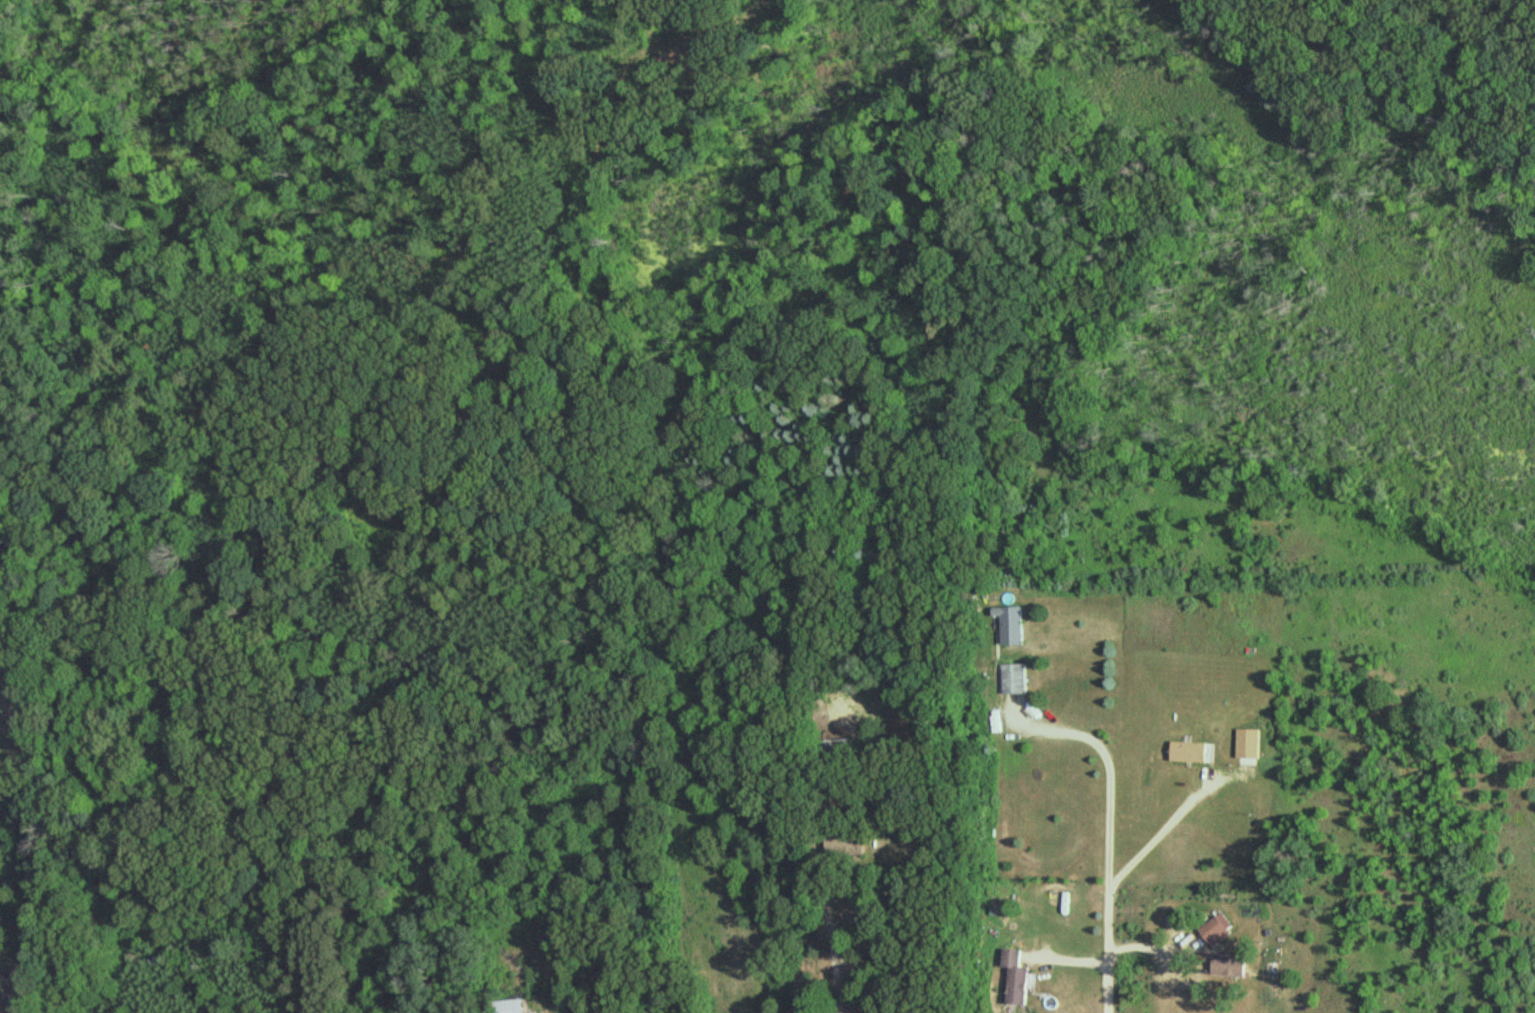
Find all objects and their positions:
building: (1014, 627)
building: (1015, 680)
building: (1248, 746)
building: (837, 751)
building: (1189, 754)
road: (1154, 831)
road: (1105, 834)
building: (846, 846)
building: (1215, 933)
road: (828, 936)
building: (1230, 968)
building: (1016, 979)
building: (509, 1007)

